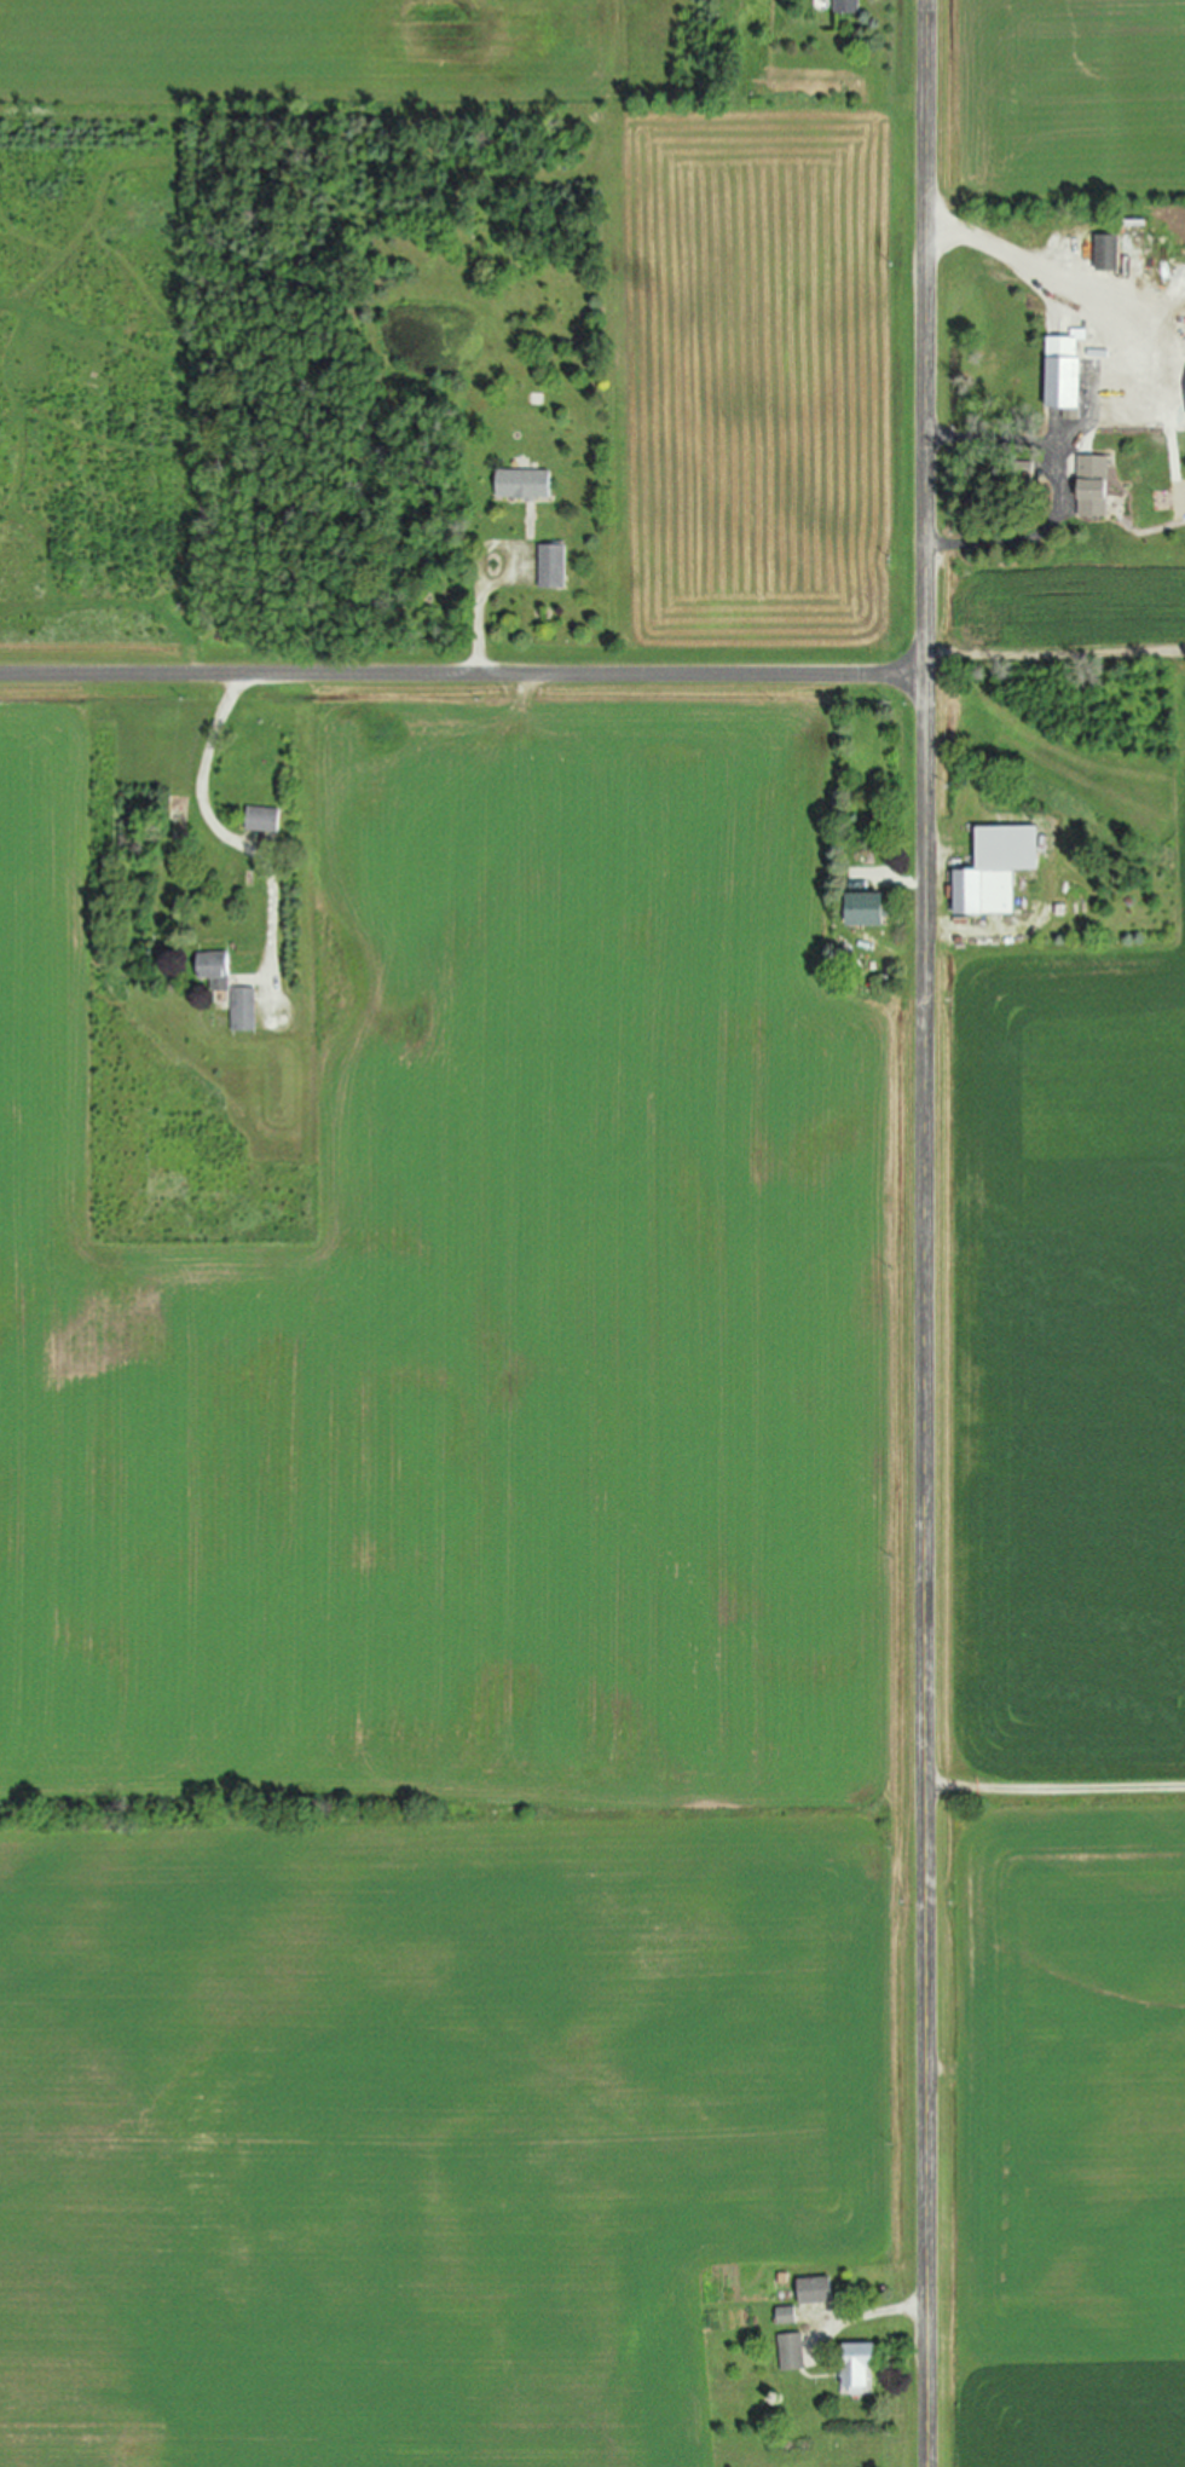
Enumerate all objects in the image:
building: (848, 6)
building: (1108, 252)
road: (1018, 268)
building: (1064, 369)
building: (522, 484)
building: (1092, 486)
road: (1060, 490)
building: (551, 566)
road: (484, 631)
road: (1056, 658)
road: (463, 674)
building: (262, 819)
road: (227, 832)
building: (995, 869)
building: (866, 908)
building: (214, 969)
building: (243, 1009)
road: (927, 1232)
road: (1056, 1791)
building: (815, 2289)
road: (881, 2312)
building: (786, 2315)
building: (792, 2351)
building: (859, 2367)

